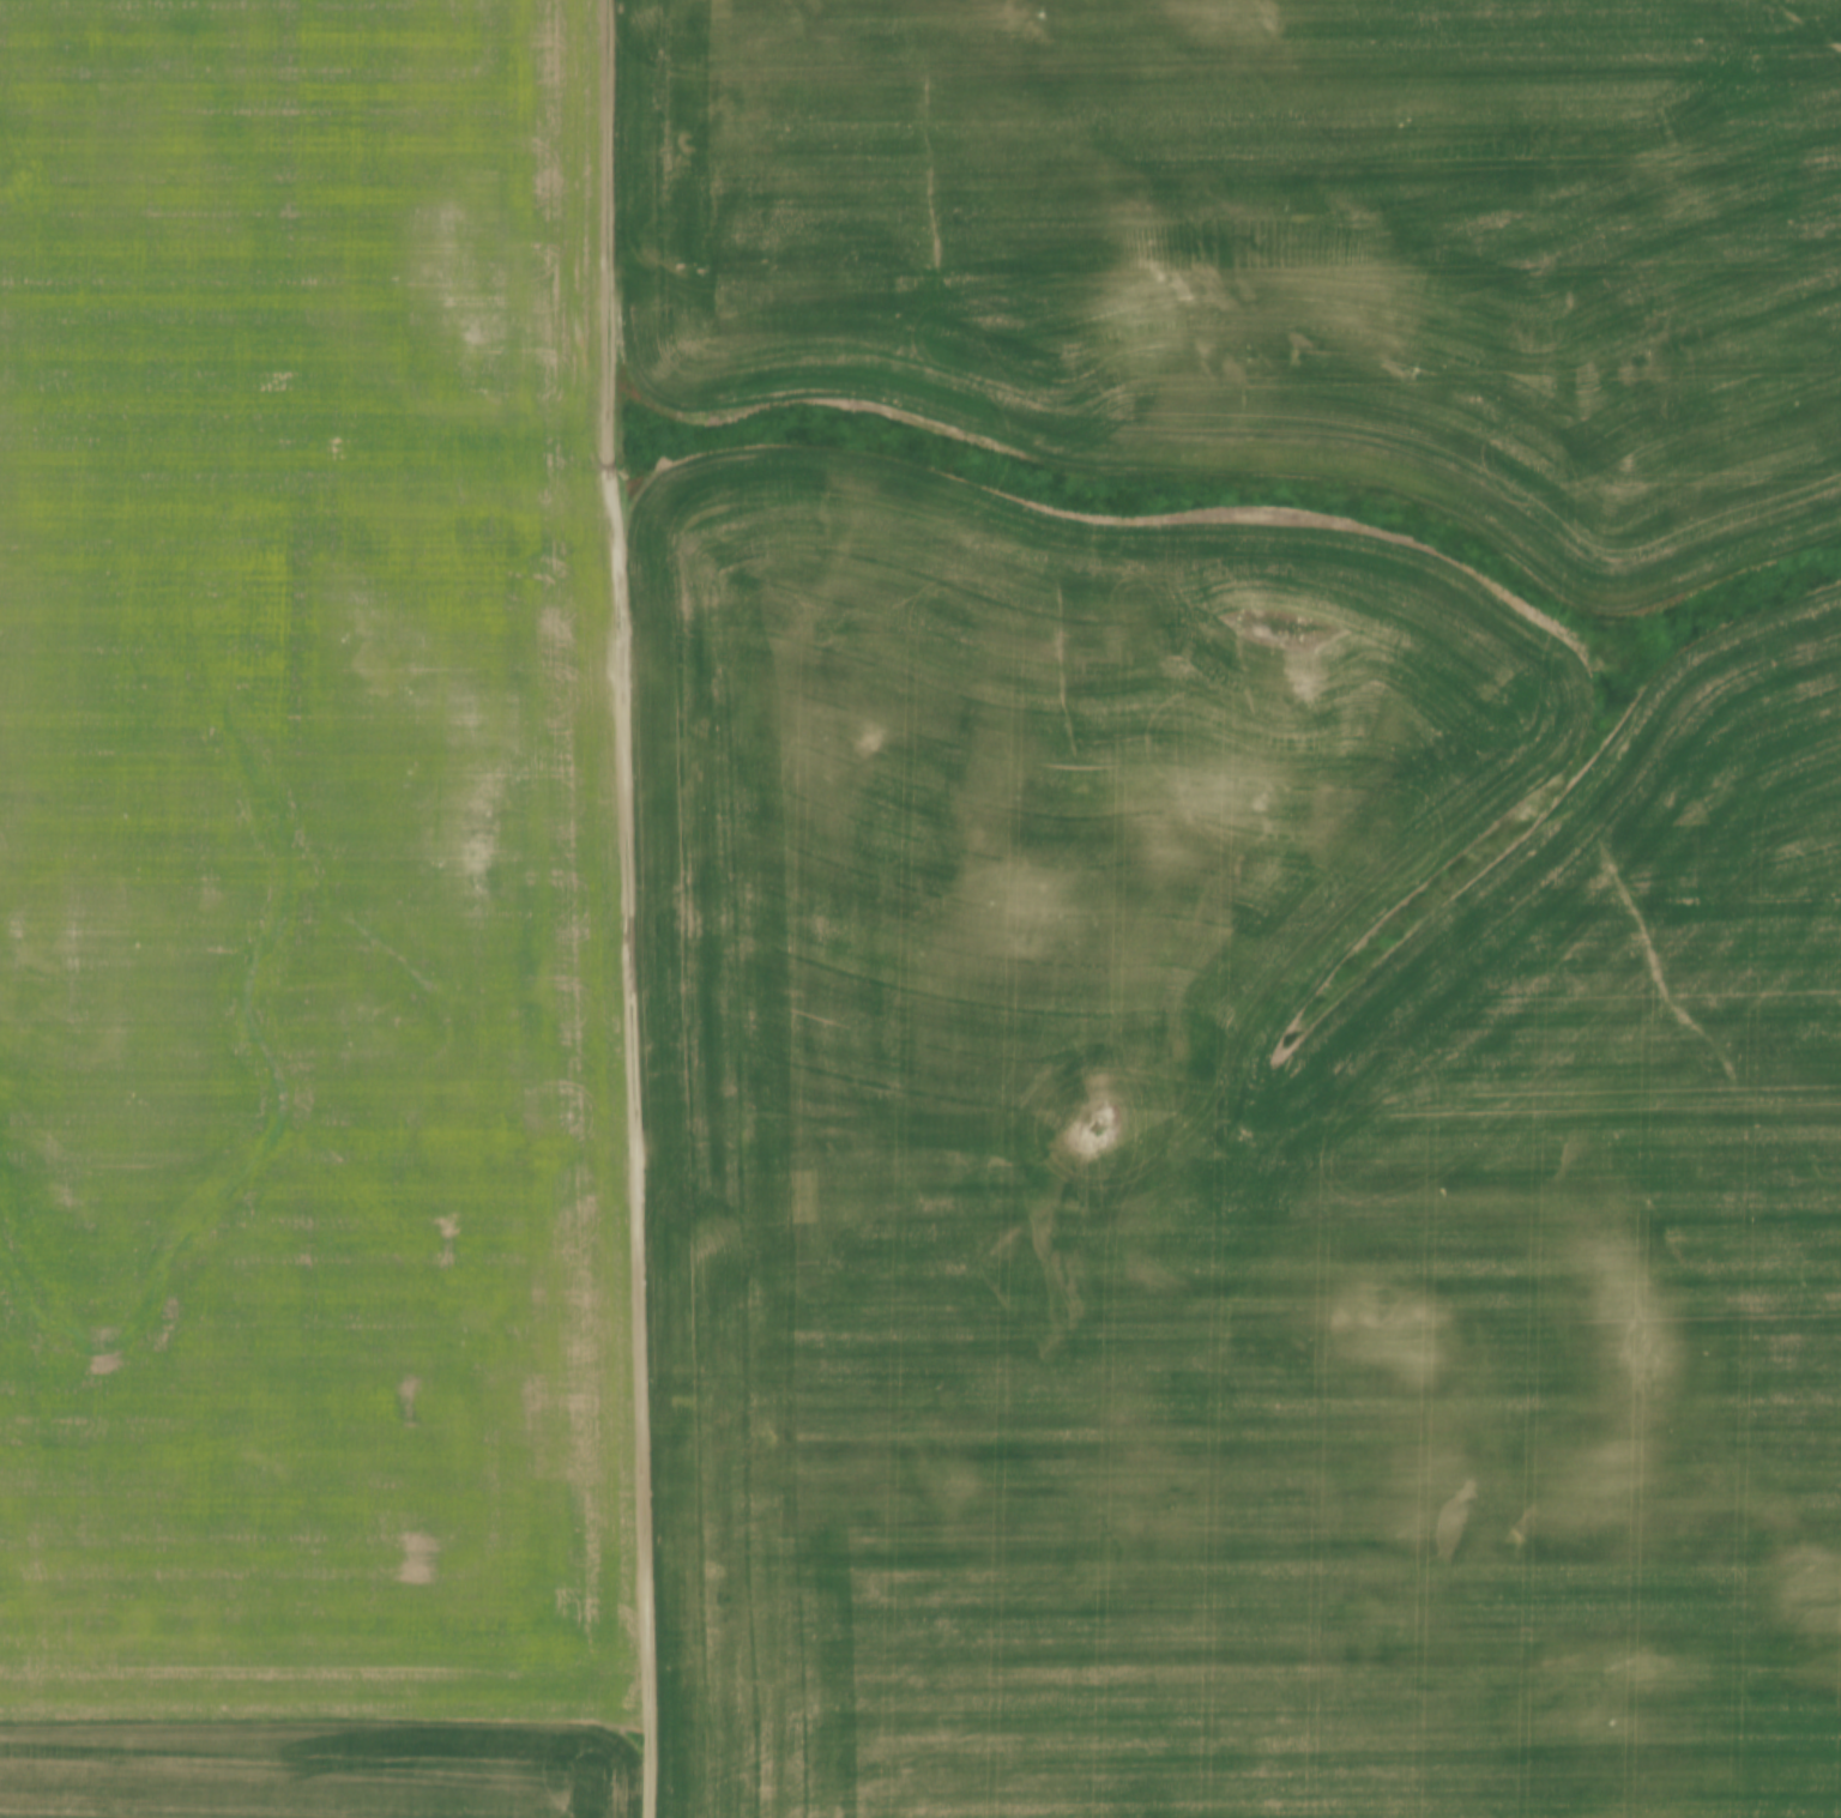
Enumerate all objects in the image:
road: (629, 908)

